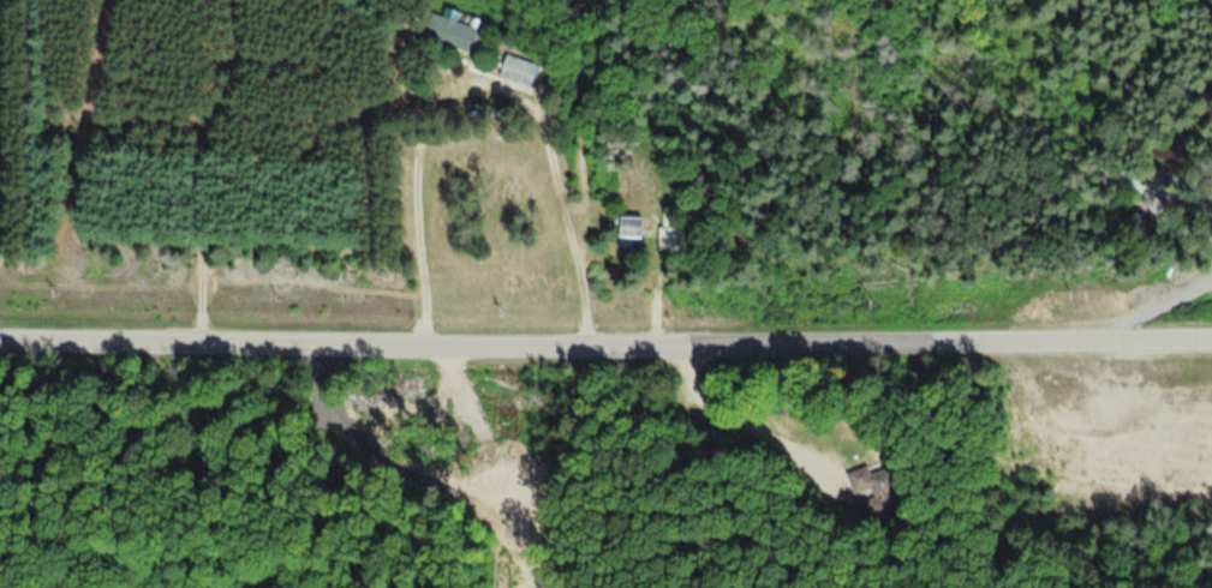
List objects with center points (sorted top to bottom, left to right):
building: (455, 31)
building: (521, 70)
building: (1116, 182)
building: (1129, 227)
building: (632, 229)
building: (673, 229)
road: (605, 346)
building: (873, 491)

